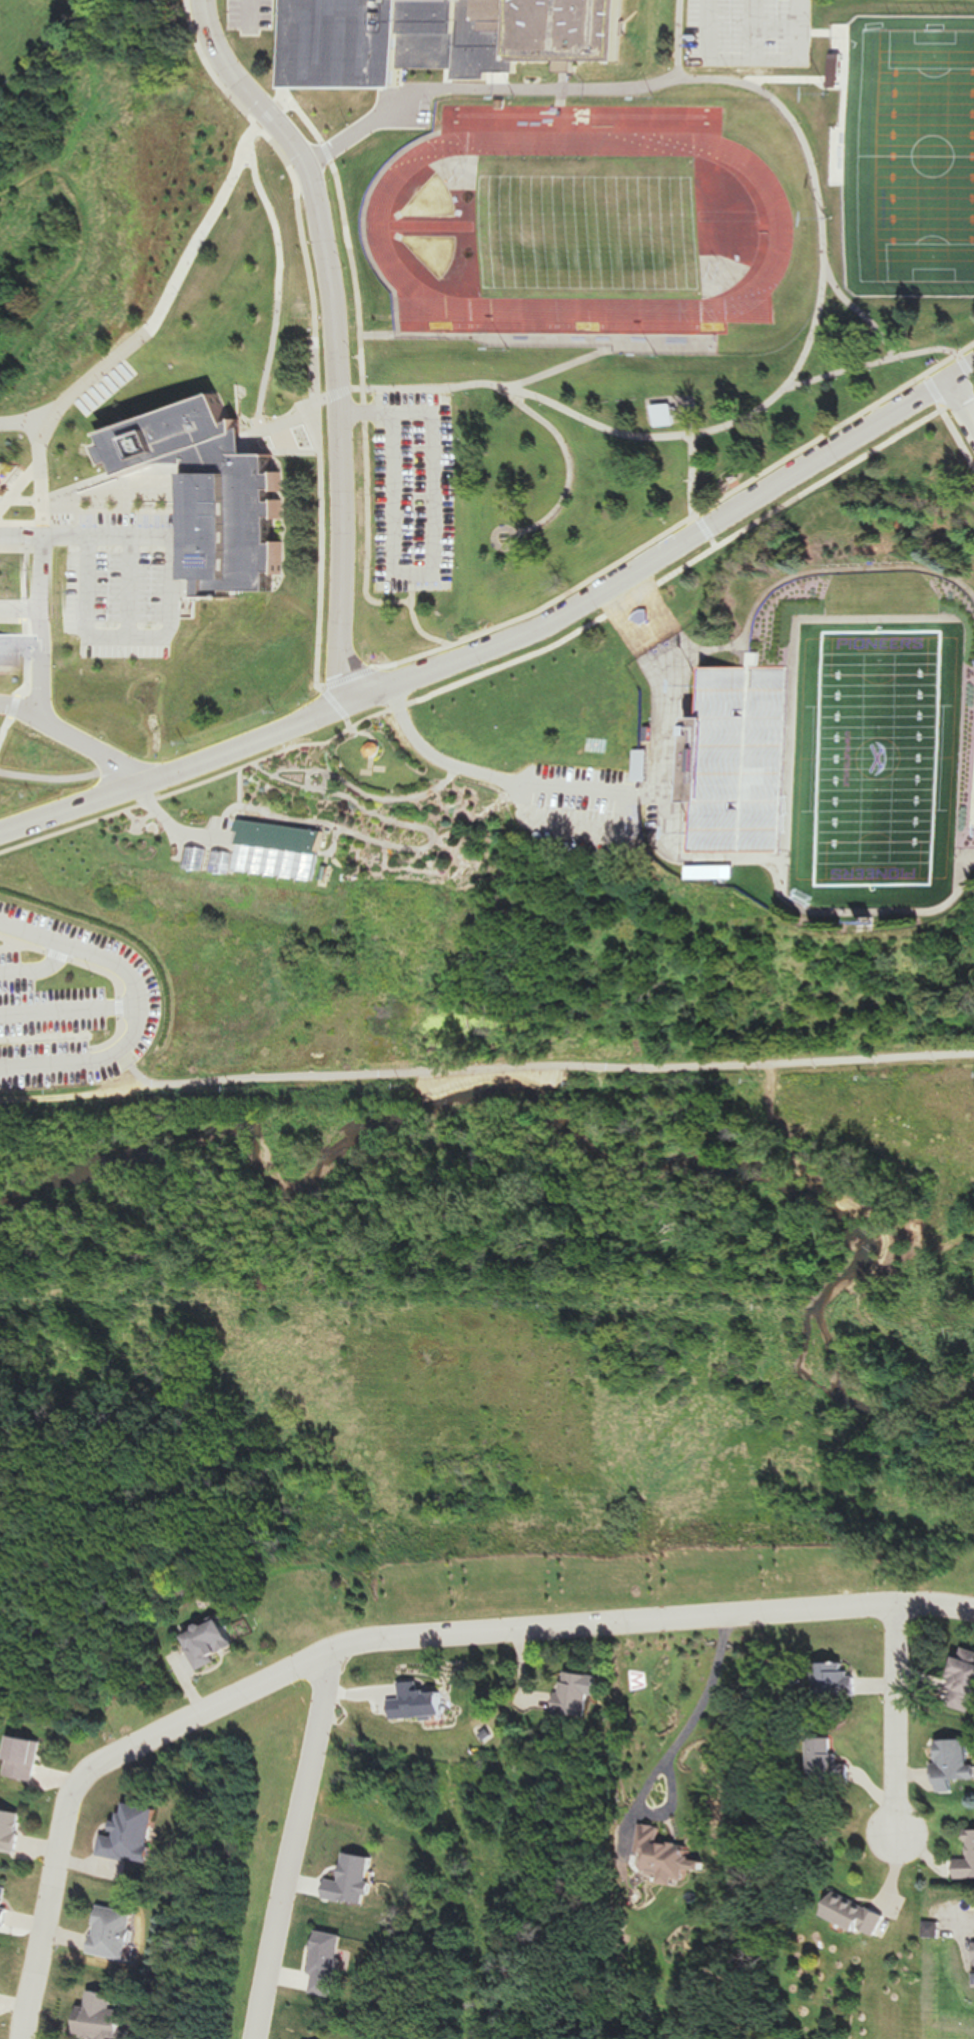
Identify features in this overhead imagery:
park: (20, 21)
building: (447, 26)
road: (763, 30)
parking lot: (754, 33)
road: (761, 60)
road: (233, 70)
road: (570, 81)
road: (483, 87)
park: (912, 152)
park: (446, 201)
track: (434, 227)
road: (88, 249)
park: (448, 252)
road: (871, 311)
road: (157, 331)
road: (543, 338)
road: (274, 347)
road: (320, 351)
road: (869, 365)
road: (968, 369)
road: (570, 371)
road: (364, 372)
road: (789, 392)
road: (959, 407)
road: (338, 408)
road: (364, 413)
road: (33, 416)
building: (664, 416)
road: (947, 421)
road: (320, 433)
road: (576, 467)
road: (112, 487)
parking lot: (412, 491)
road: (691, 494)
building: (221, 496)
road: (18, 501)
road: (191, 506)
road: (43, 536)
road: (656, 538)
road: (501, 546)
road: (435, 569)
parking lot: (120, 583)
road: (127, 587)
road: (18, 608)
road: (414, 617)
road: (650, 630)
road: (165, 632)
road: (738, 640)
road: (508, 642)
road: (747, 649)
building: (9, 650)
road: (27, 655)
road: (508, 664)
road: (18, 704)
road: (60, 732)
road: (430, 754)
building: (733, 758)
stadium: (841, 760)
park: (882, 760)
parking lot: (579, 806)
road: (629, 829)
parking lot: (192, 845)
building: (274, 854)
road: (825, 912)
road: (15, 948)
road: (36, 970)
road: (105, 972)
parking lot: (73, 1003)
road: (138, 1006)
road: (68, 1011)
road: (58, 1038)
road: (549, 1069)
road: (61, 1096)
road: (827, 1178)
park: (532, 1282)
road: (381, 1640)
building: (215, 1643)
building: (965, 1674)
building: (847, 1682)
building: (579, 1693)
building: (426, 1702)
road: (898, 1720)
building: (27, 1758)
building: (832, 1764)
building: (956, 1764)
building: (11, 1829)
building: (134, 1834)
road: (302, 1845)
building: (667, 1859)
building: (967, 1865)
building: (4, 1904)
building: (861, 1916)
road: (964, 1922)
building: (114, 1933)
building: (108, 2018)

